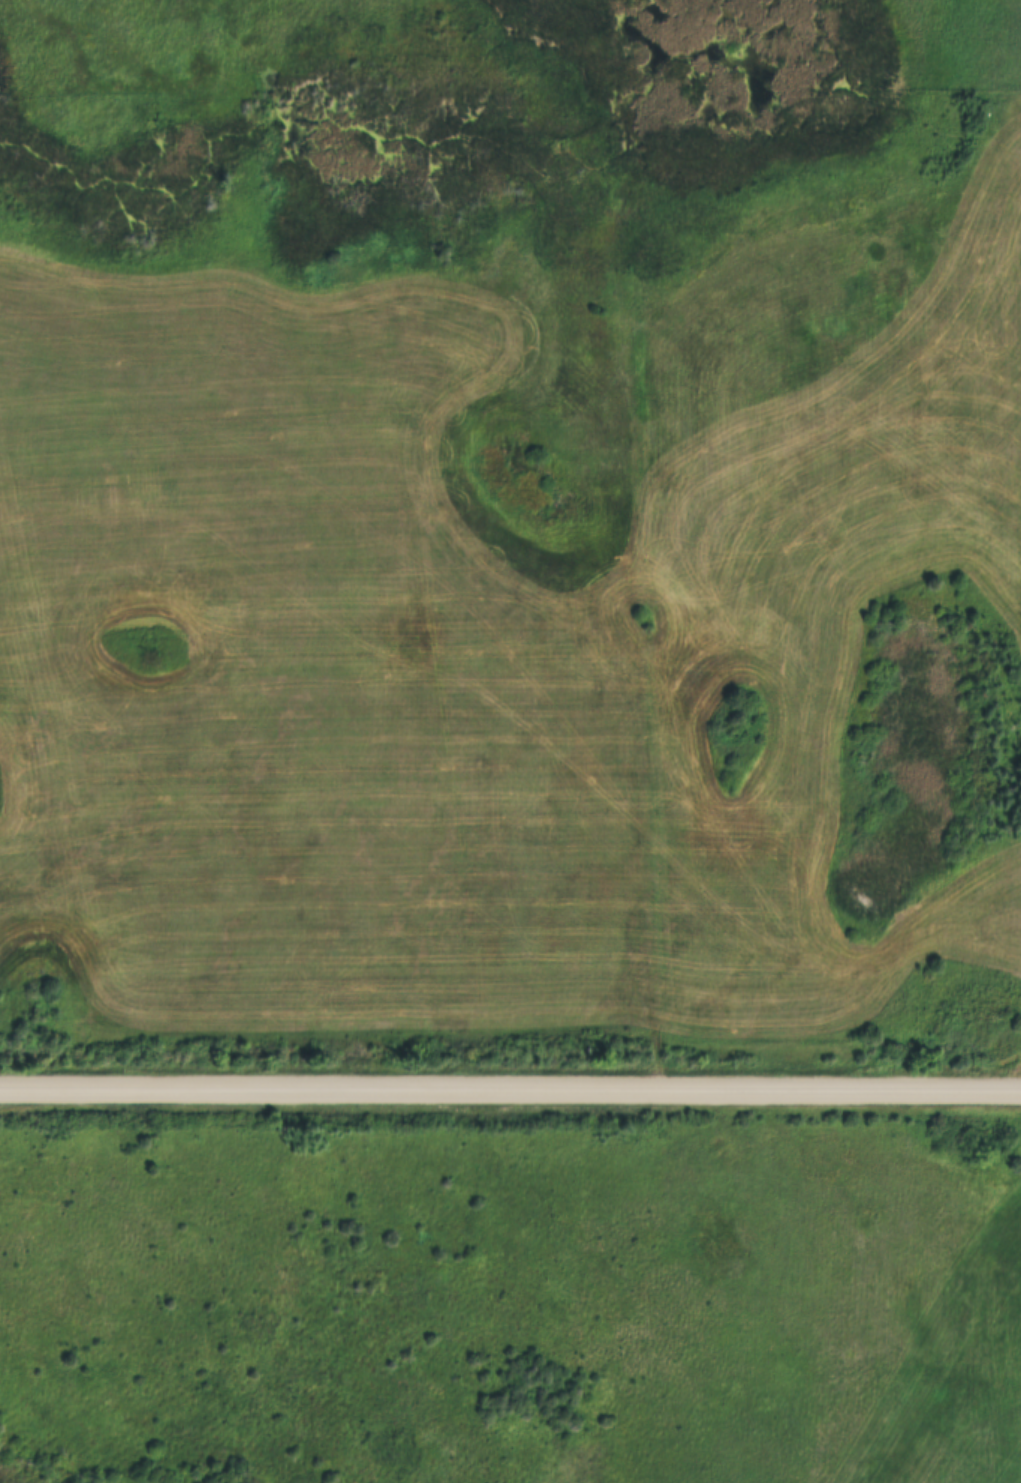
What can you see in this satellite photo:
road: (510, 1085)

